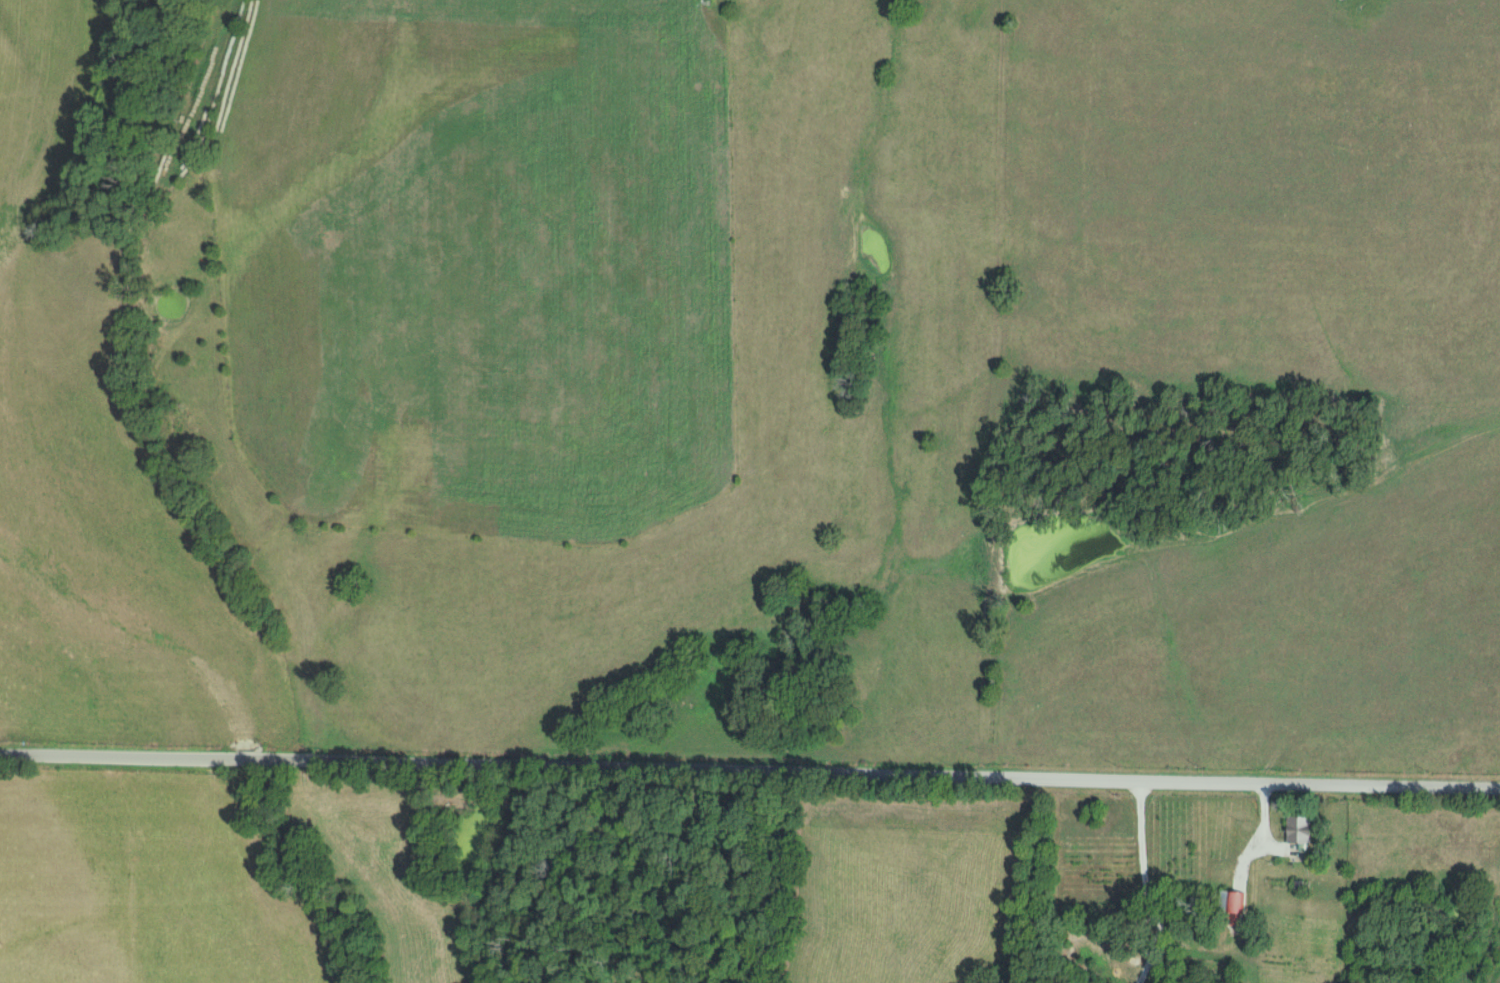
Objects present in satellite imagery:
road: (749, 770)
building: (1295, 828)
road: (1262, 833)
road: (1143, 881)
building: (1228, 904)

